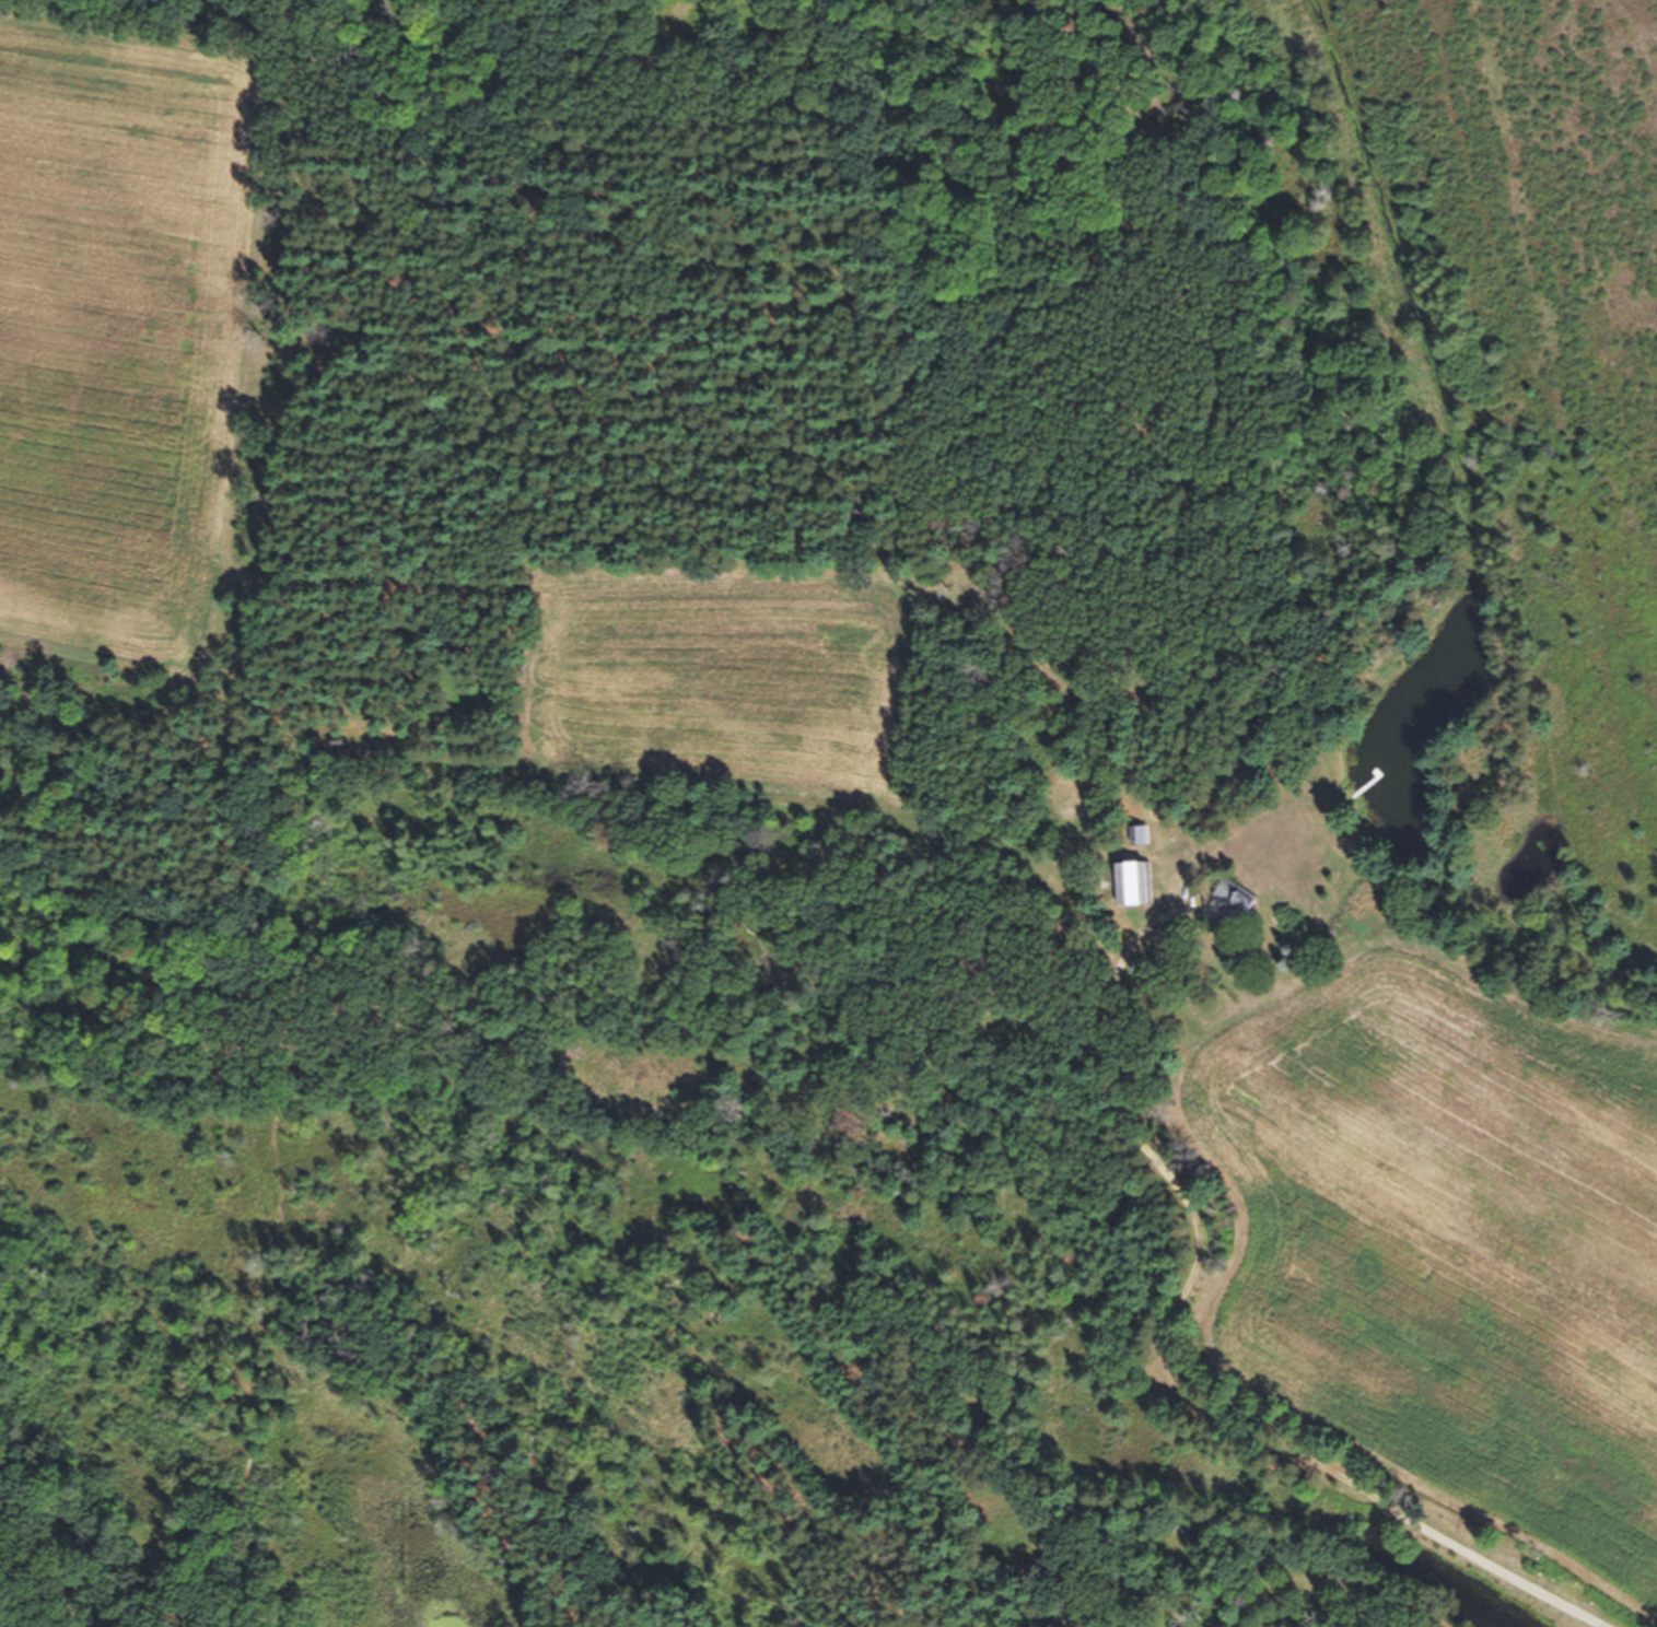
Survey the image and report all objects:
building: (1130, 893)
building: (1237, 909)
road: (1158, 1381)

